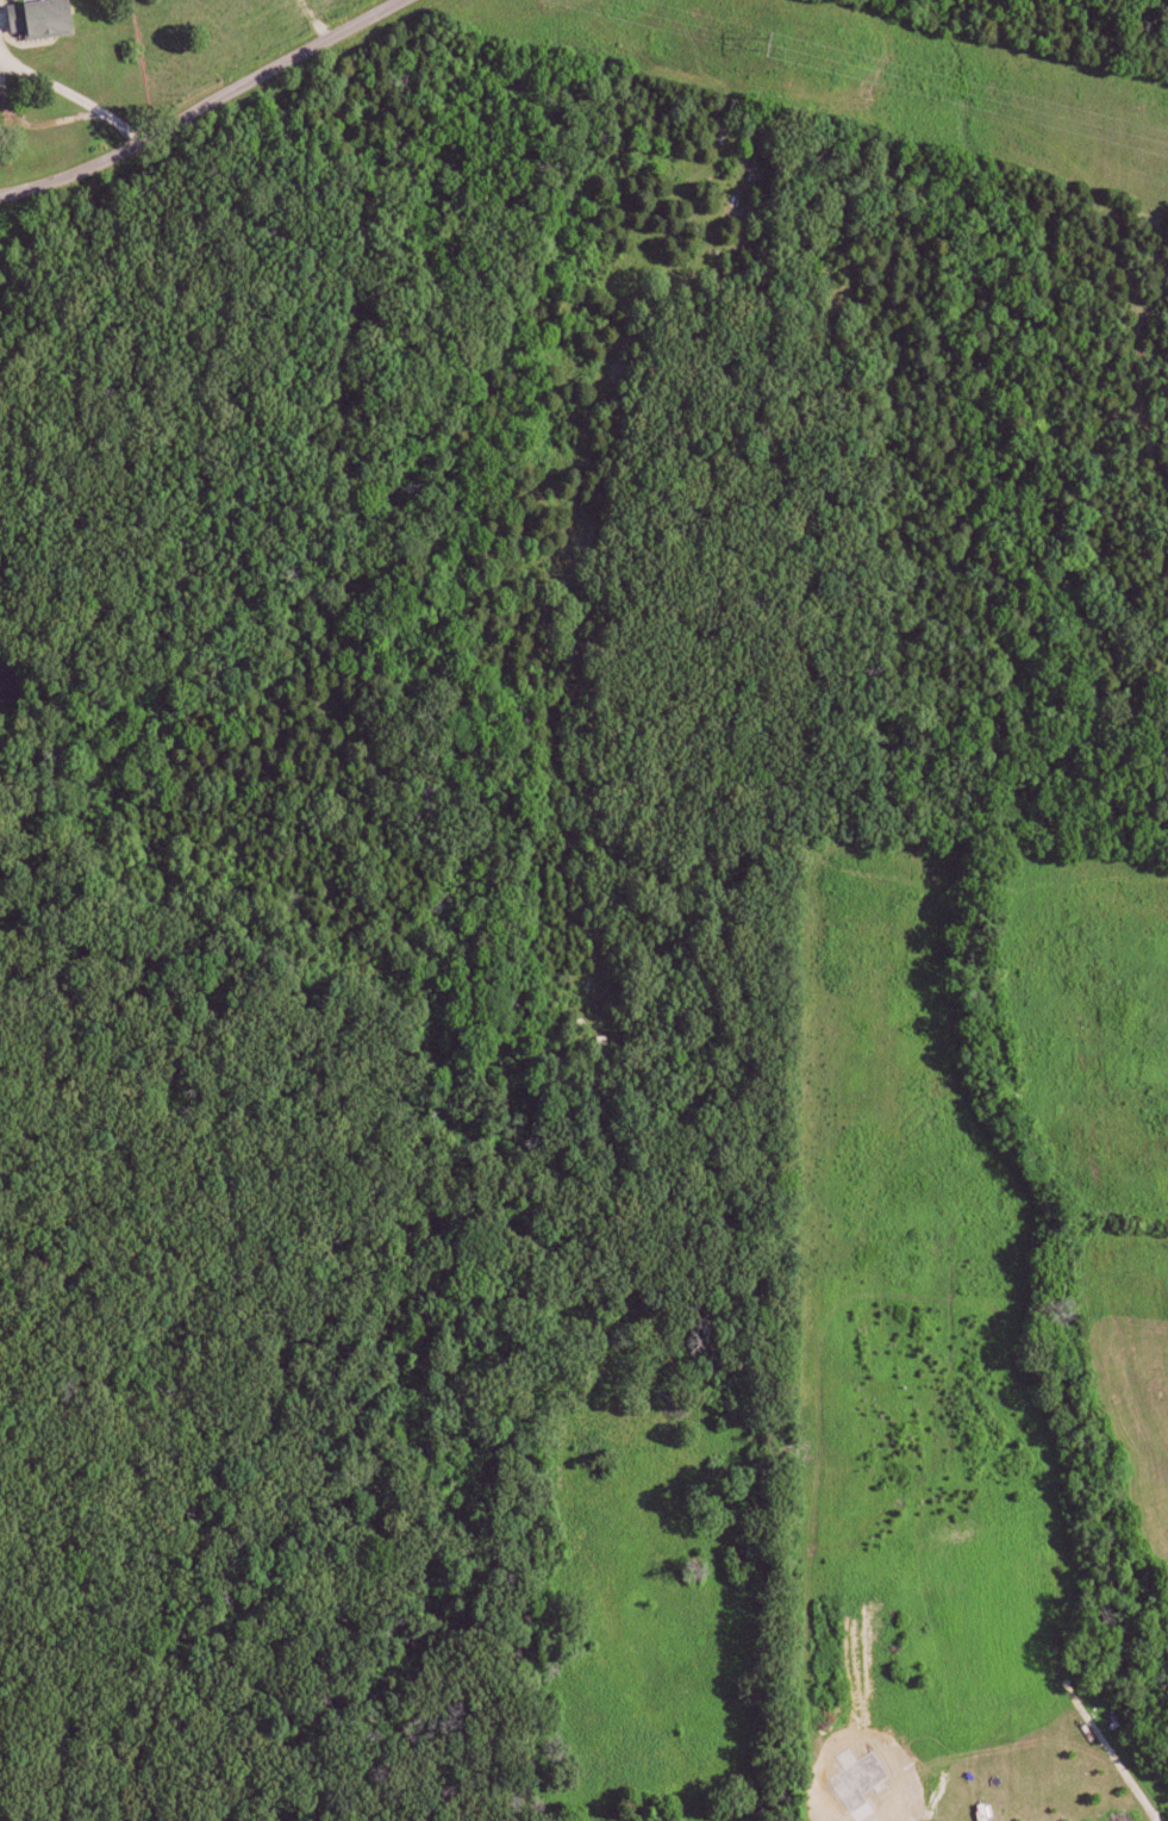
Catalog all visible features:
building: (44, 17)
power tower: (764, 46)
road: (210, 108)

